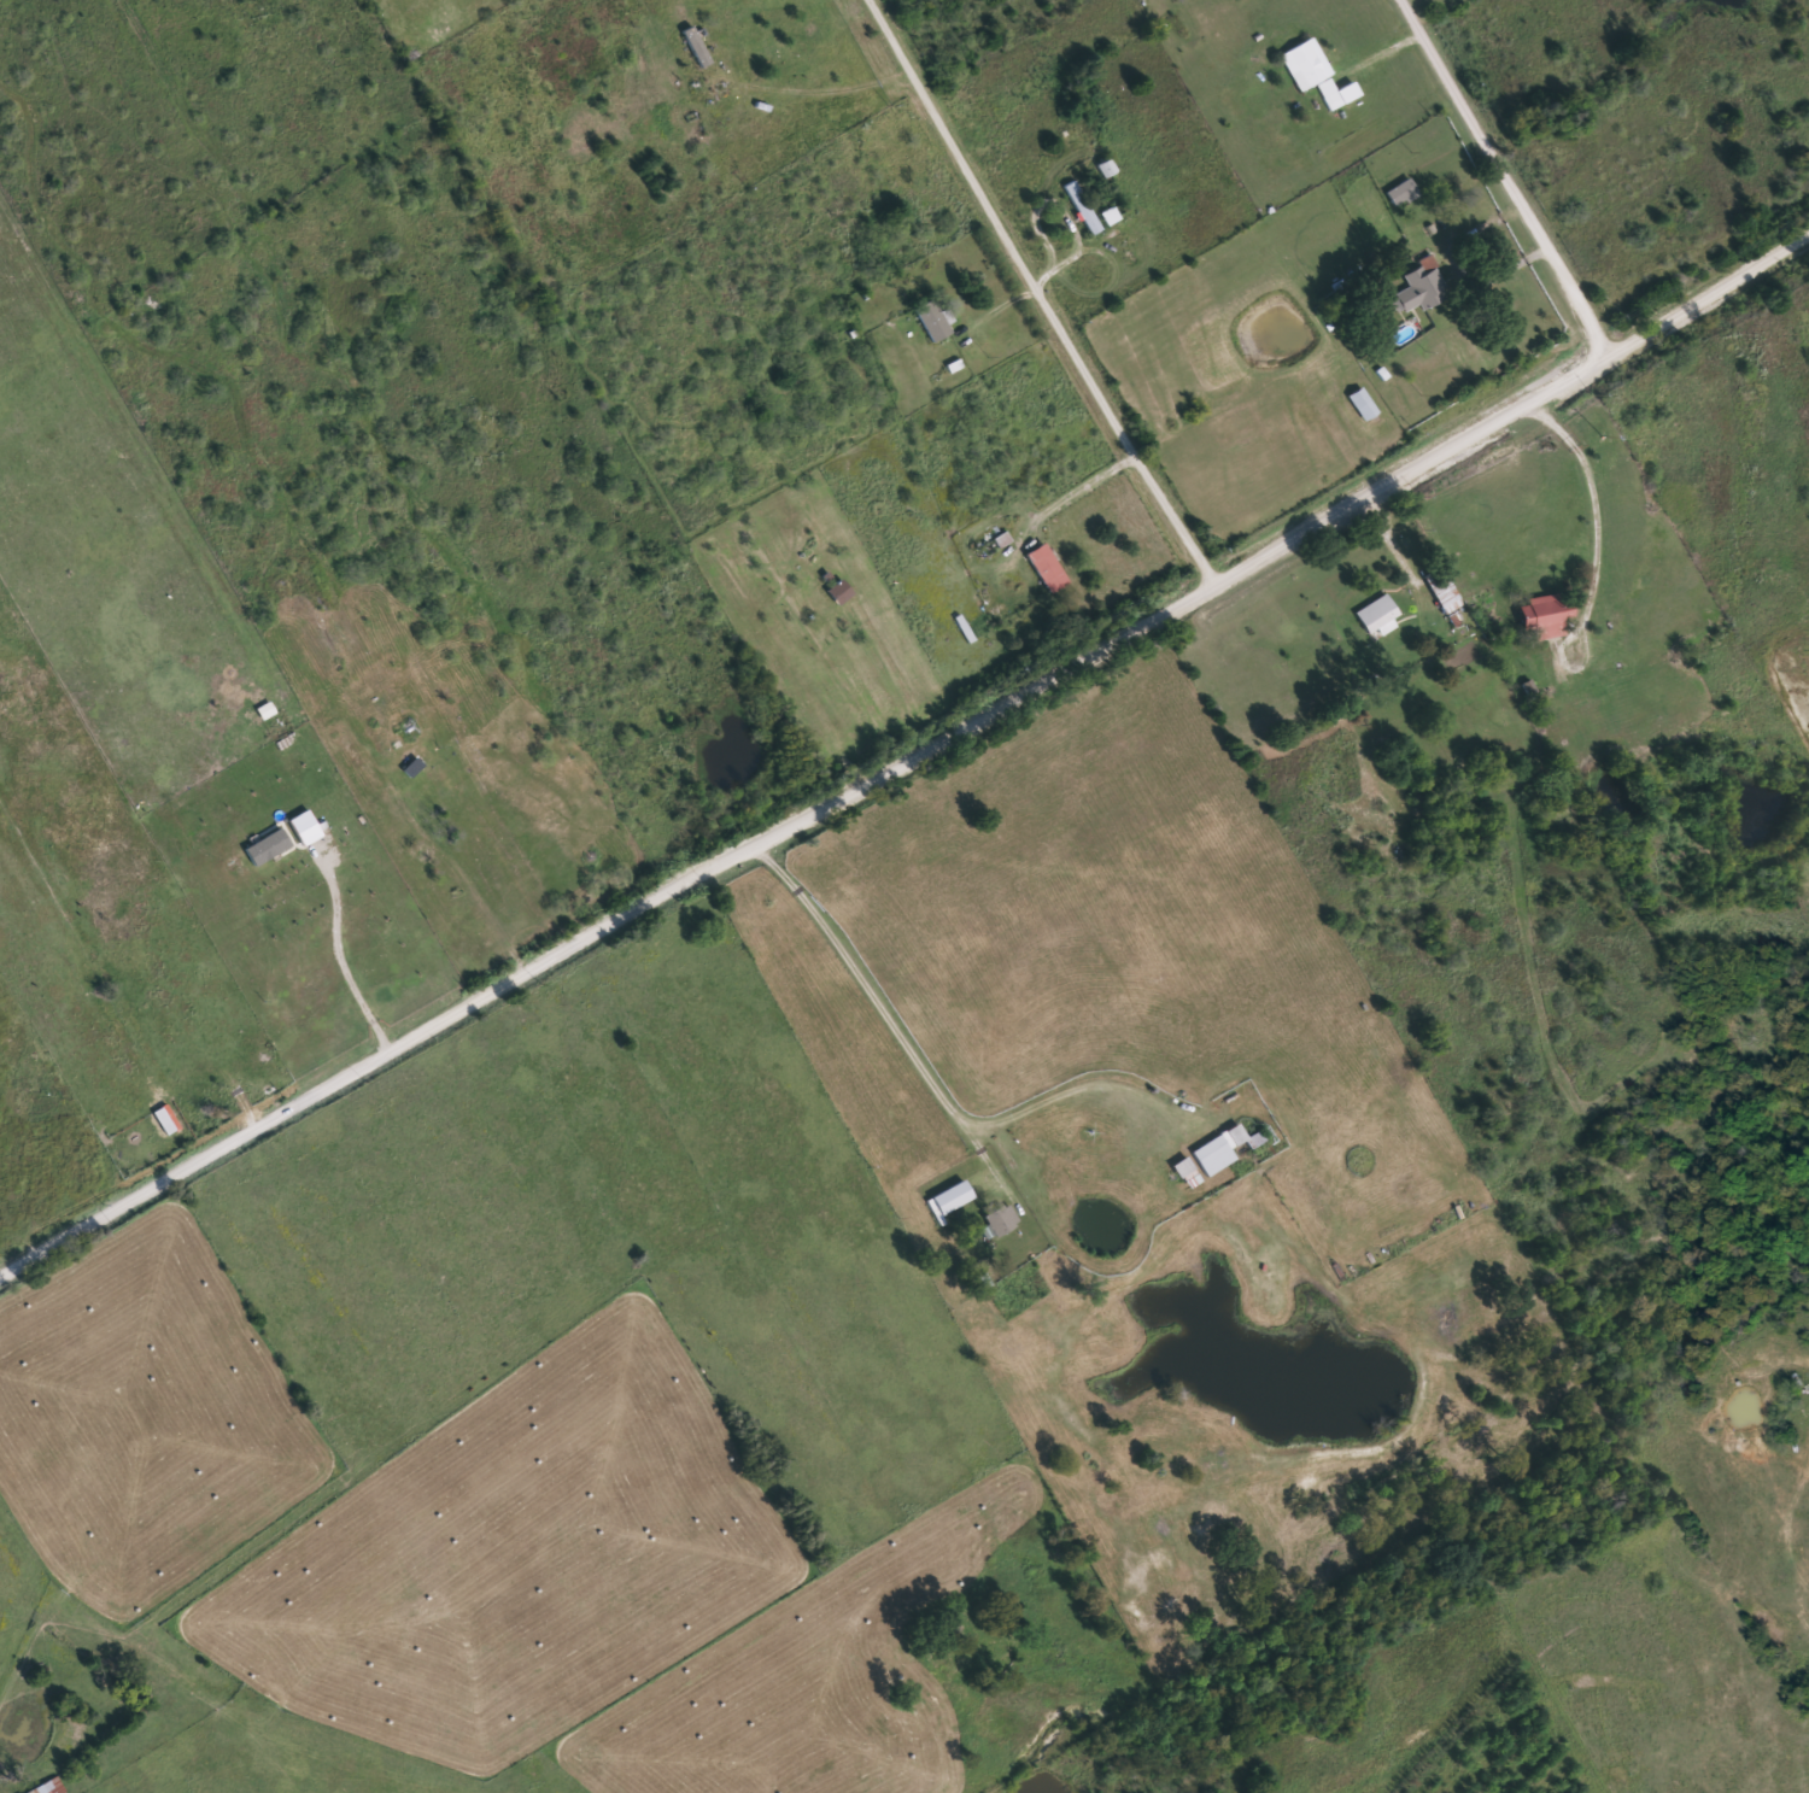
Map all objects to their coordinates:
building: (699, 47)
building: (1311, 75)
building: (1341, 94)
road: (1507, 178)
building: (1401, 193)
building: (1082, 207)
building: (1422, 287)
road: (1040, 293)
building: (932, 321)
building: (1363, 405)
road: (1593, 518)
road: (1394, 539)
building: (1047, 569)
building: (1442, 592)
building: (1376, 614)
building: (1546, 615)
building: (1458, 620)
road: (906, 762)
building: (271, 846)
road: (883, 1007)
building: (166, 1121)
building: (1213, 1155)
building: (1187, 1167)
building: (953, 1201)
building: (1001, 1220)
building: (49, 1787)

